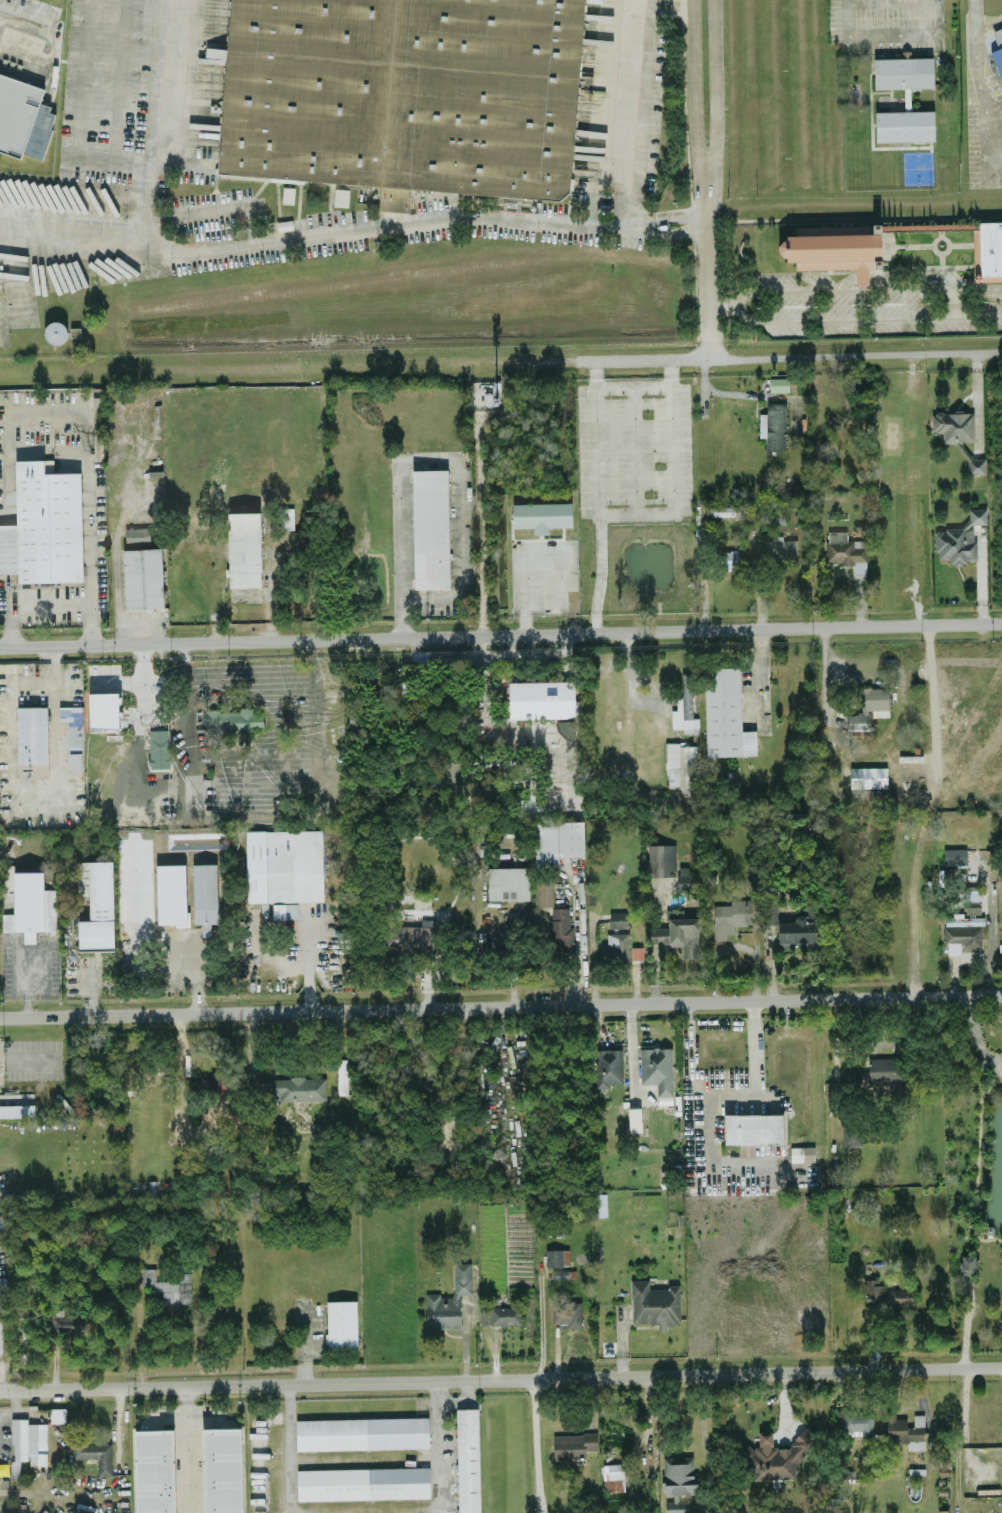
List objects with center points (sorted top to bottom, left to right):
road: (660, 7)
road: (27, 21)
building: (1001, 27)
road: (26, 54)
building: (998, 59)
road: (53, 62)
building: (903, 71)
road: (119, 82)
road: (980, 84)
building: (400, 89)
road: (689, 94)
road: (713, 94)
road: (627, 113)
road: (79, 114)
road: (155, 116)
building: (23, 119)
building: (904, 125)
building: (340, 196)
road: (212, 209)
road: (671, 212)
road: (674, 231)
road: (321, 234)
building: (987, 251)
building: (833, 252)
road: (704, 260)
road: (847, 288)
road: (852, 320)
road: (840, 357)
road: (688, 360)
road: (633, 361)
building: (778, 383)
road: (723, 391)
road: (977, 397)
road: (83, 418)
building: (773, 425)
building: (952, 425)
building: (975, 465)
road: (673, 474)
road: (456, 479)
road: (599, 497)
building: (726, 510)
building: (541, 515)
building: (776, 516)
building: (285, 517)
building: (43, 525)
road: (481, 526)
building: (430, 528)
building: (137, 537)
building: (958, 539)
building: (243, 549)
building: (780, 550)
building: (843, 553)
building: (730, 559)
building: (142, 578)
road: (269, 585)
road: (51, 607)
road: (501, 632)
road: (534, 654)
road: (757, 674)
road: (820, 675)
road: (631, 676)
road: (117, 680)
road: (143, 680)
building: (541, 698)
building: (684, 705)
road: (484, 706)
building: (866, 706)
building: (103, 709)
building: (725, 714)
building: (232, 721)
building: (565, 728)
building: (32, 741)
building: (74, 746)
building: (159, 748)
building: (681, 766)
building: (451, 772)
building: (865, 777)
road: (34, 790)
building: (556, 841)
building: (954, 855)
building: (661, 859)
building: (284, 865)
building: (686, 877)
building: (507, 882)
building: (543, 891)
building: (204, 895)
building: (29, 904)
building: (971, 905)
building: (98, 909)
building: (173, 916)
building: (731, 916)
building: (618, 918)
road: (991, 923)
building: (561, 928)
building: (797, 931)
building: (413, 936)
building: (678, 937)
road: (579, 946)
building: (615, 946)
building: (636, 951)
road: (308, 959)
road: (957, 960)
road: (123, 963)
road: (194, 975)
road: (599, 1002)
road: (98, 1013)
road: (641, 1044)
building: (610, 1066)
building: (657, 1068)
building: (882, 1069)
road: (41, 1071)
building: (341, 1075)
building: (296, 1088)
road: (1, 1090)
road: (711, 1093)
building: (16, 1106)
building: (752, 1130)
building: (851, 1135)
building: (802, 1153)
building: (1, 1223)
building: (557, 1256)
building: (967, 1264)
building: (168, 1286)
building: (887, 1295)
building: (449, 1299)
building: (654, 1303)
building: (567, 1313)
building: (500, 1314)
road: (540, 1323)
building: (341, 1324)
road: (304, 1357)
road: (957, 1367)
road: (456, 1378)
road: (926, 1414)
road: (703, 1418)
building: (856, 1422)
building: (905, 1430)
building: (362, 1432)
road: (288, 1439)
road: (536, 1444)
building: (573, 1444)
road: (436, 1445)
building: (27, 1446)
road: (187, 1449)
building: (95, 1454)
building: (781, 1454)
building: (467, 1460)
building: (221, 1470)
building: (154, 1471)
building: (613, 1476)
building: (363, 1482)
building: (677, 1482)

